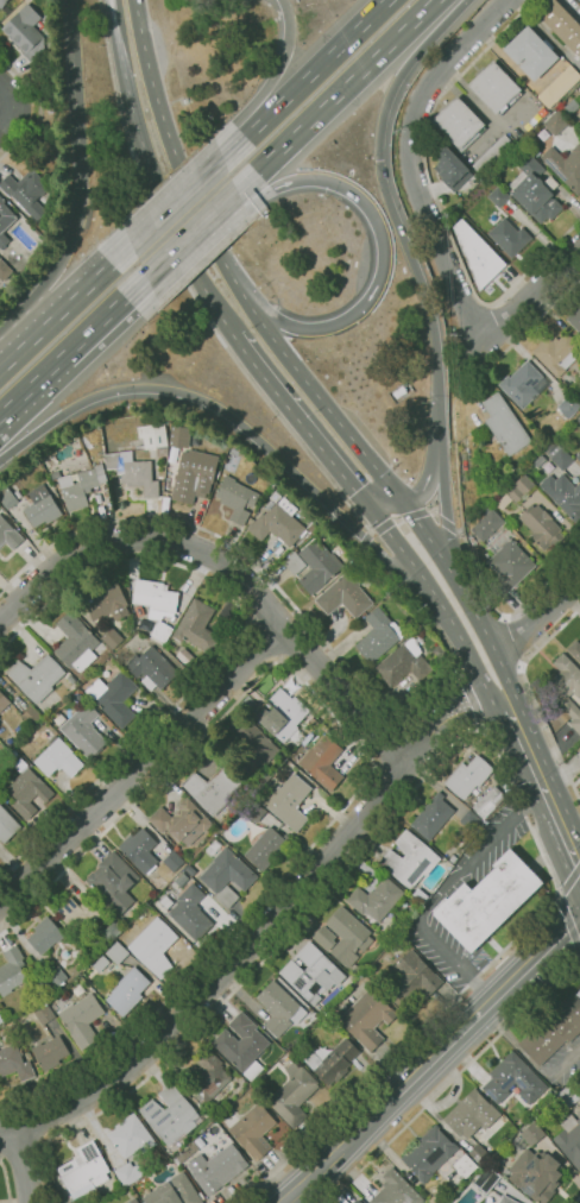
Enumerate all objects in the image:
building: (579, 0)
building: (15, 1)
building: (2, 2)
building: (562, 25)
building: (27, 33)
building: (530, 53)
road: (308, 73)
building: (43, 76)
road: (273, 77)
building: (559, 87)
building: (494, 88)
road: (10, 93)
road: (74, 93)
road: (336, 95)
road: (39, 107)
road: (10, 120)
building: (459, 122)
building: (556, 122)
road: (32, 132)
road: (46, 137)
road: (130, 146)
road: (227, 152)
road: (414, 155)
building: (491, 155)
traffic signals: (378, 159)
building: (565, 165)
building: (450, 166)
road: (151, 177)
building: (487, 187)
building: (535, 189)
building: (29, 193)
building: (479, 194)
building: (498, 196)
road: (176, 201)
road: (436, 202)
building: (512, 204)
building: (5, 221)
building: (478, 221)
building: (45, 223)
building: (491, 223)
road: (190, 233)
building: (510, 237)
building: (477, 248)
road: (383, 250)
road: (62, 258)
road: (414, 265)
road: (227, 269)
building: (4, 270)
road: (87, 285)
road: (529, 295)
road: (105, 316)
building: (575, 319)
road: (26, 345)
building: (557, 353)
road: (5, 365)
building: (523, 384)
road: (32, 385)
building: (567, 408)
road: (276, 412)
building: (579, 421)
road: (237, 422)
road: (300, 422)
building: (504, 424)
building: (177, 436)
building: (153, 437)
building: (560, 456)
building: (579, 456)
building: (540, 460)
building: (133, 472)
building: (194, 475)
road: (455, 475)
road: (425, 477)
building: (81, 486)
building: (519, 487)
traffic signals: (401, 497)
building: (567, 497)
building: (8, 498)
building: (237, 498)
road: (383, 500)
building: (496, 502)
traffic signals: (366, 505)
building: (42, 506)
road: (405, 516)
building: (279, 521)
building: (487, 523)
building: (314, 525)
building: (542, 525)
building: (322, 531)
road: (459, 531)
building: (8, 534)
building: (508, 560)
building: (295, 562)
building: (319, 565)
road: (232, 566)
building: (345, 596)
road: (466, 597)
building: (107, 601)
building: (156, 605)
road: (435, 607)
road: (266, 609)
road: (540, 615)
building: (197, 626)
road: (313, 626)
building: (379, 635)
road: (517, 636)
building: (113, 637)
road: (294, 641)
building: (76, 642)
road: (232, 643)
building: (575, 649)
building: (440, 650)
building: (184, 654)
building: (404, 663)
building: (152, 668)
building: (36, 676)
building: (70, 679)
building: (567, 688)
building: (114, 697)
road: (465, 698)
road: (534, 698)
building: (4, 701)
road: (469, 714)
building: (32, 716)
building: (284, 717)
building: (84, 730)
road: (387, 747)
building: (253, 748)
road: (418, 748)
building: (58, 758)
road: (370, 758)
building: (326, 762)
road: (144, 763)
building: (468, 775)
road: (390, 781)
building: (579, 781)
road: (544, 786)
building: (213, 789)
building: (29, 792)
building: (289, 800)
building: (488, 801)
building: (256, 812)
building: (433, 815)
building: (182, 821)
building: (7, 825)
building: (213, 846)
building: (266, 848)
building: (140, 850)
building: (410, 858)
building: (453, 858)
building: (174, 862)
building: (190, 869)
building: (228, 876)
building: (182, 880)
building: (113, 881)
road: (440, 892)
building: (420, 895)
building: (376, 899)
building: (487, 900)
building: (81, 909)
building: (191, 912)
building: (111, 928)
building: (45, 934)
building: (343, 937)
building: (155, 947)
building: (118, 952)
road: (235, 952)
building: (101, 963)
road: (252, 968)
building: (12, 970)
building: (313, 971)
building: (56, 976)
building: (412, 978)
road: (468, 984)
building: (128, 990)
building: (278, 1007)
building: (44, 1014)
building: (367, 1018)
building: (81, 1019)
building: (1, 1020)
building: (553, 1028)
building: (241, 1041)
building: (50, 1052)
road: (431, 1059)
building: (333, 1060)
building: (14, 1063)
building: (506, 1076)
building: (209, 1077)
road: (452, 1078)
building: (547, 1090)
building: (294, 1094)
building: (568, 1095)
building: (171, 1114)
building: (471, 1114)
building: (253, 1130)
building: (531, 1132)
building: (131, 1136)
building: (570, 1139)
building: (188, 1152)
building: (429, 1153)
road: (20, 1154)
building: (479, 1154)
building: (176, 1161)
building: (465, 1165)
road: (25, 1166)
building: (218, 1167)
building: (84, 1170)
building: (128, 1173)
building: (536, 1174)
building: (486, 1179)
road: (6, 1182)
building: (456, 1189)
building: (396, 1190)
building: (175, 1192)
building: (436, 1199)
building: (508, 1199)
road: (576, 1199)
building: (133, 1201)
building: (357, 1201)

